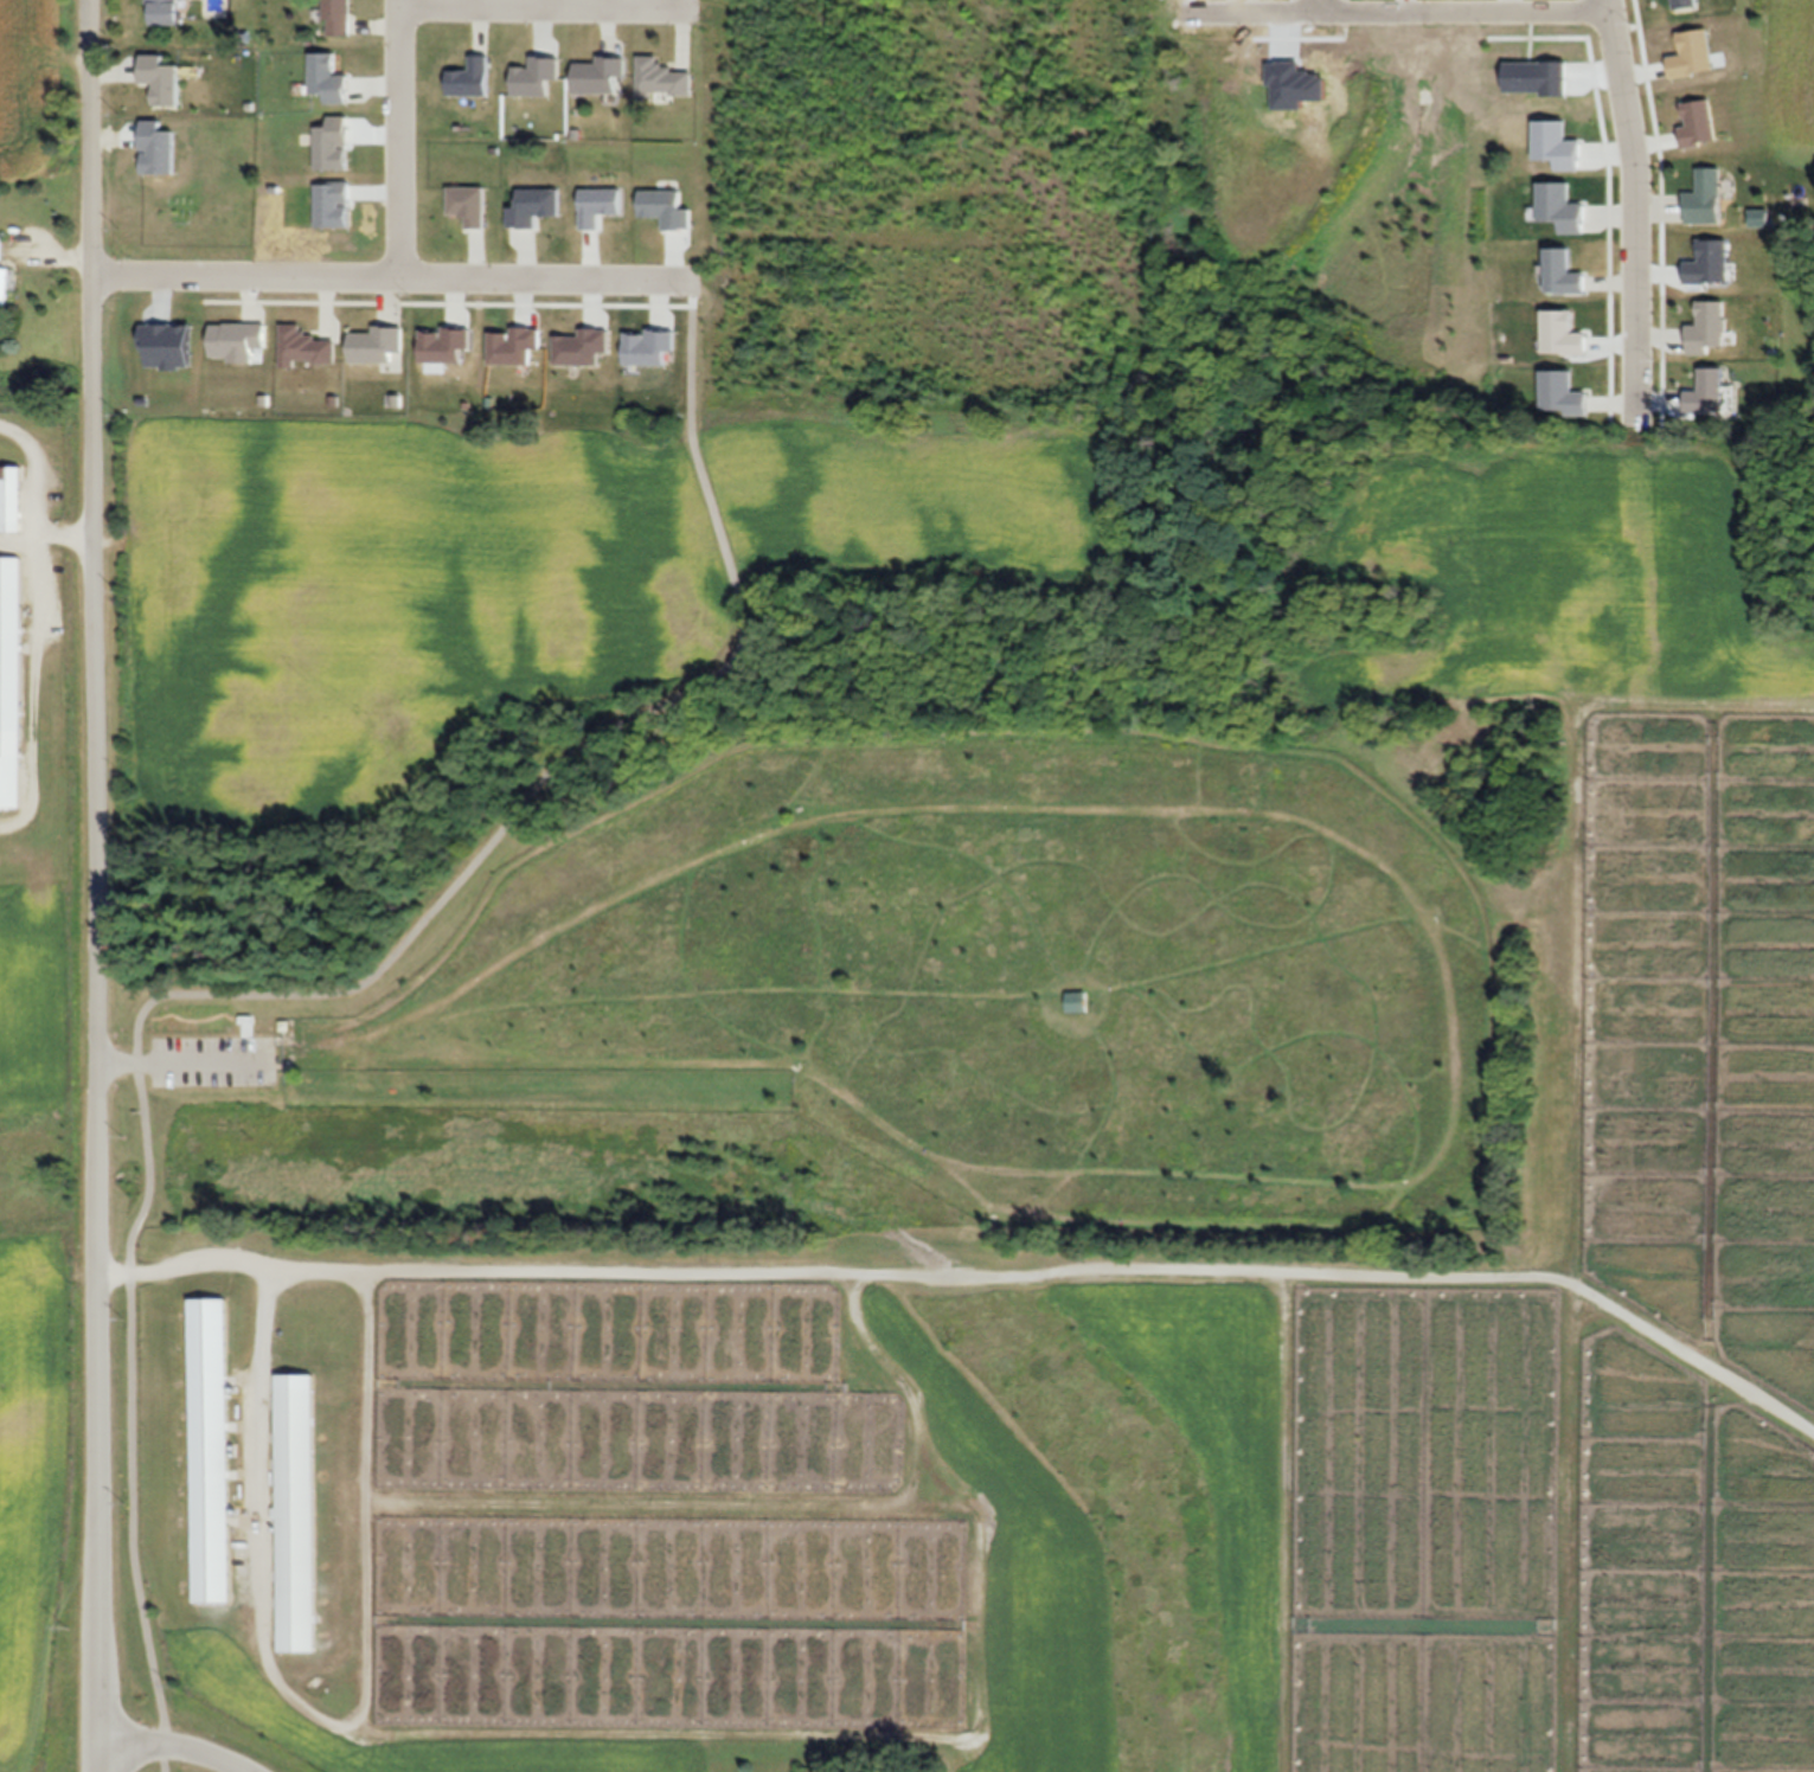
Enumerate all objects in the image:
road: (551, 2)
road: (1315, 4)
road: (1305, 6)
road: (1515, 6)
building: (164, 12)
building: (338, 18)
building: (600, 73)
building: (662, 78)
crop: (1788, 83)
crop: (40, 90)
road: (403, 139)
building: (1704, 197)
crop: (1337, 206)
road: (1634, 207)
building: (1562, 271)
road: (392, 278)
building: (4, 280)
building: (237, 342)
building: (376, 344)
building: (306, 347)
building: (12, 501)
building: (11, 681)
park: (801, 821)
road: (91, 885)
road: (309, 993)
crop: (41, 1087)
road: (976, 1272)
crop: (1115, 1350)
building: (210, 1450)
building: (294, 1519)
road: (173, 1744)

